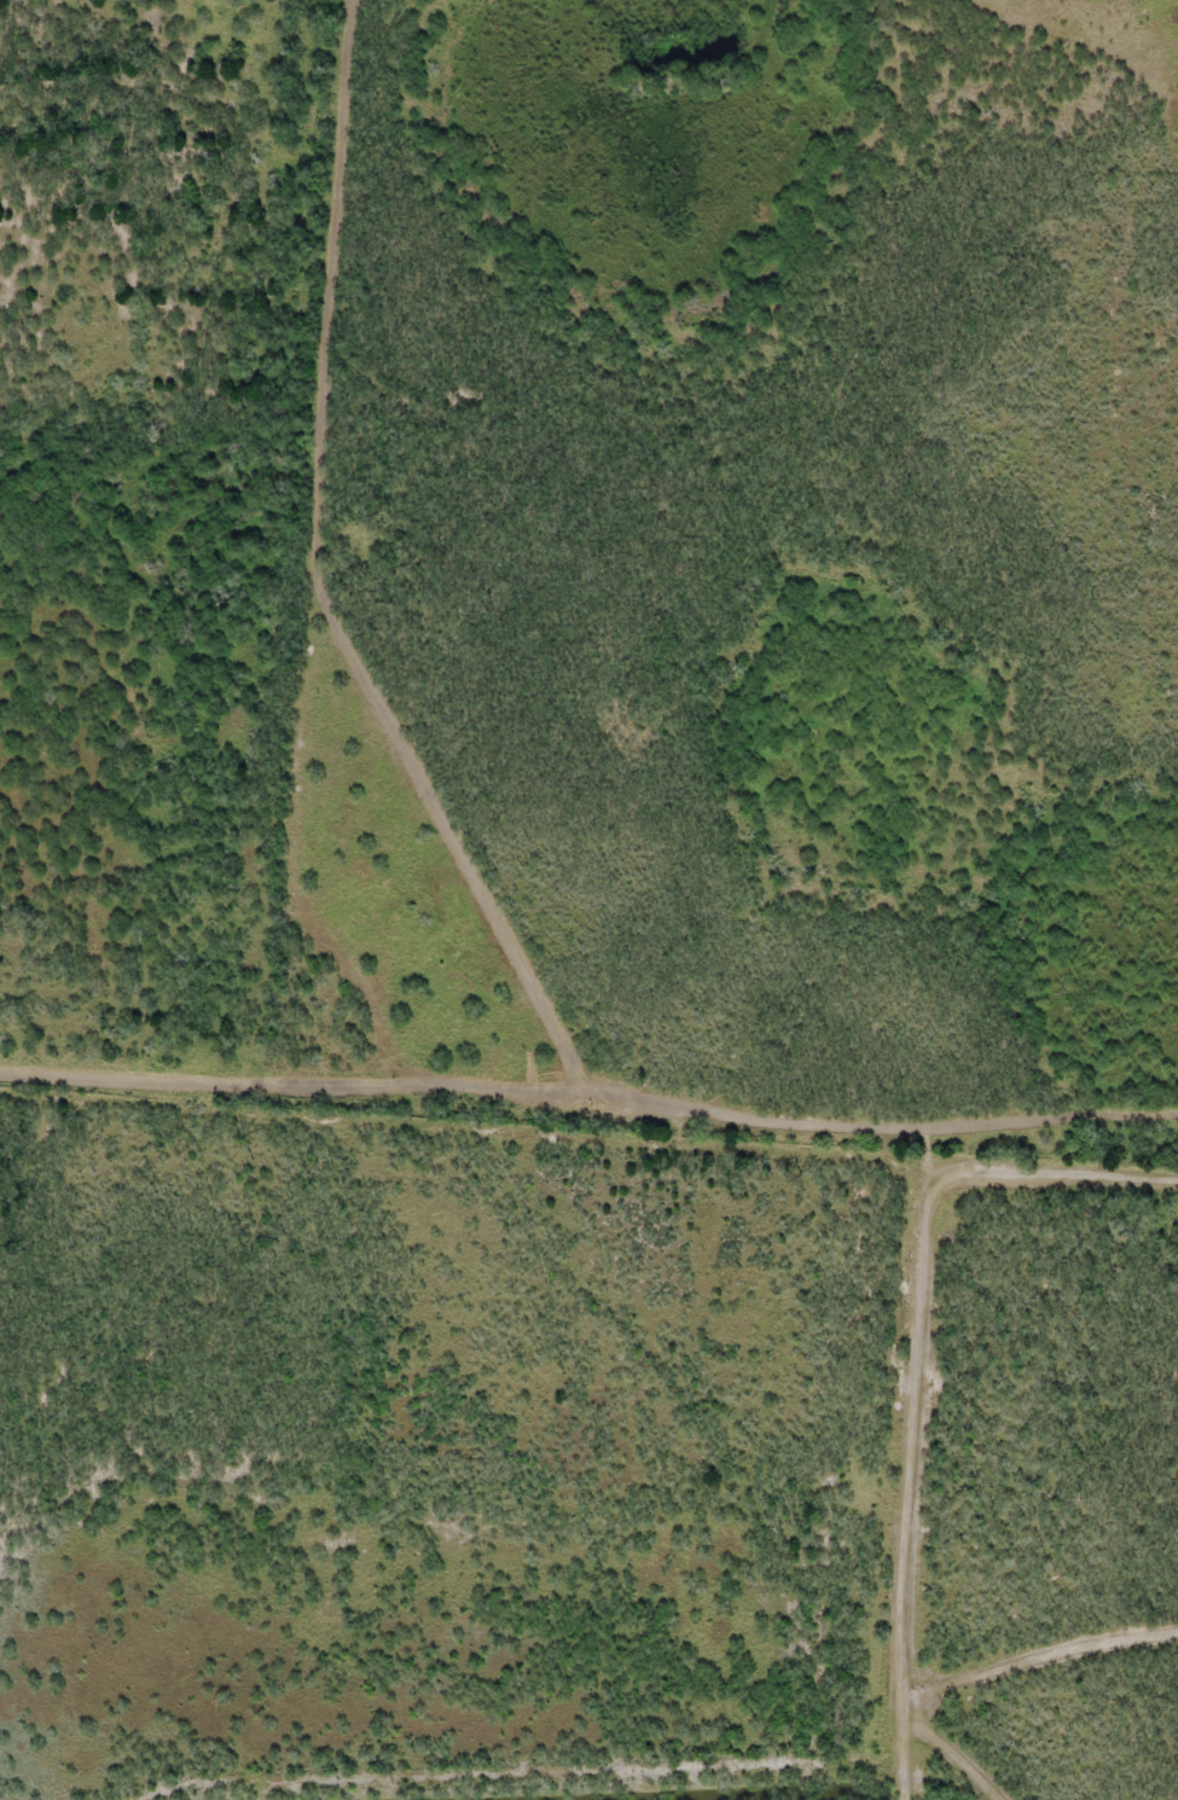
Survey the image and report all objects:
road: (147, 538)
road: (292, 556)
road: (766, 1145)

